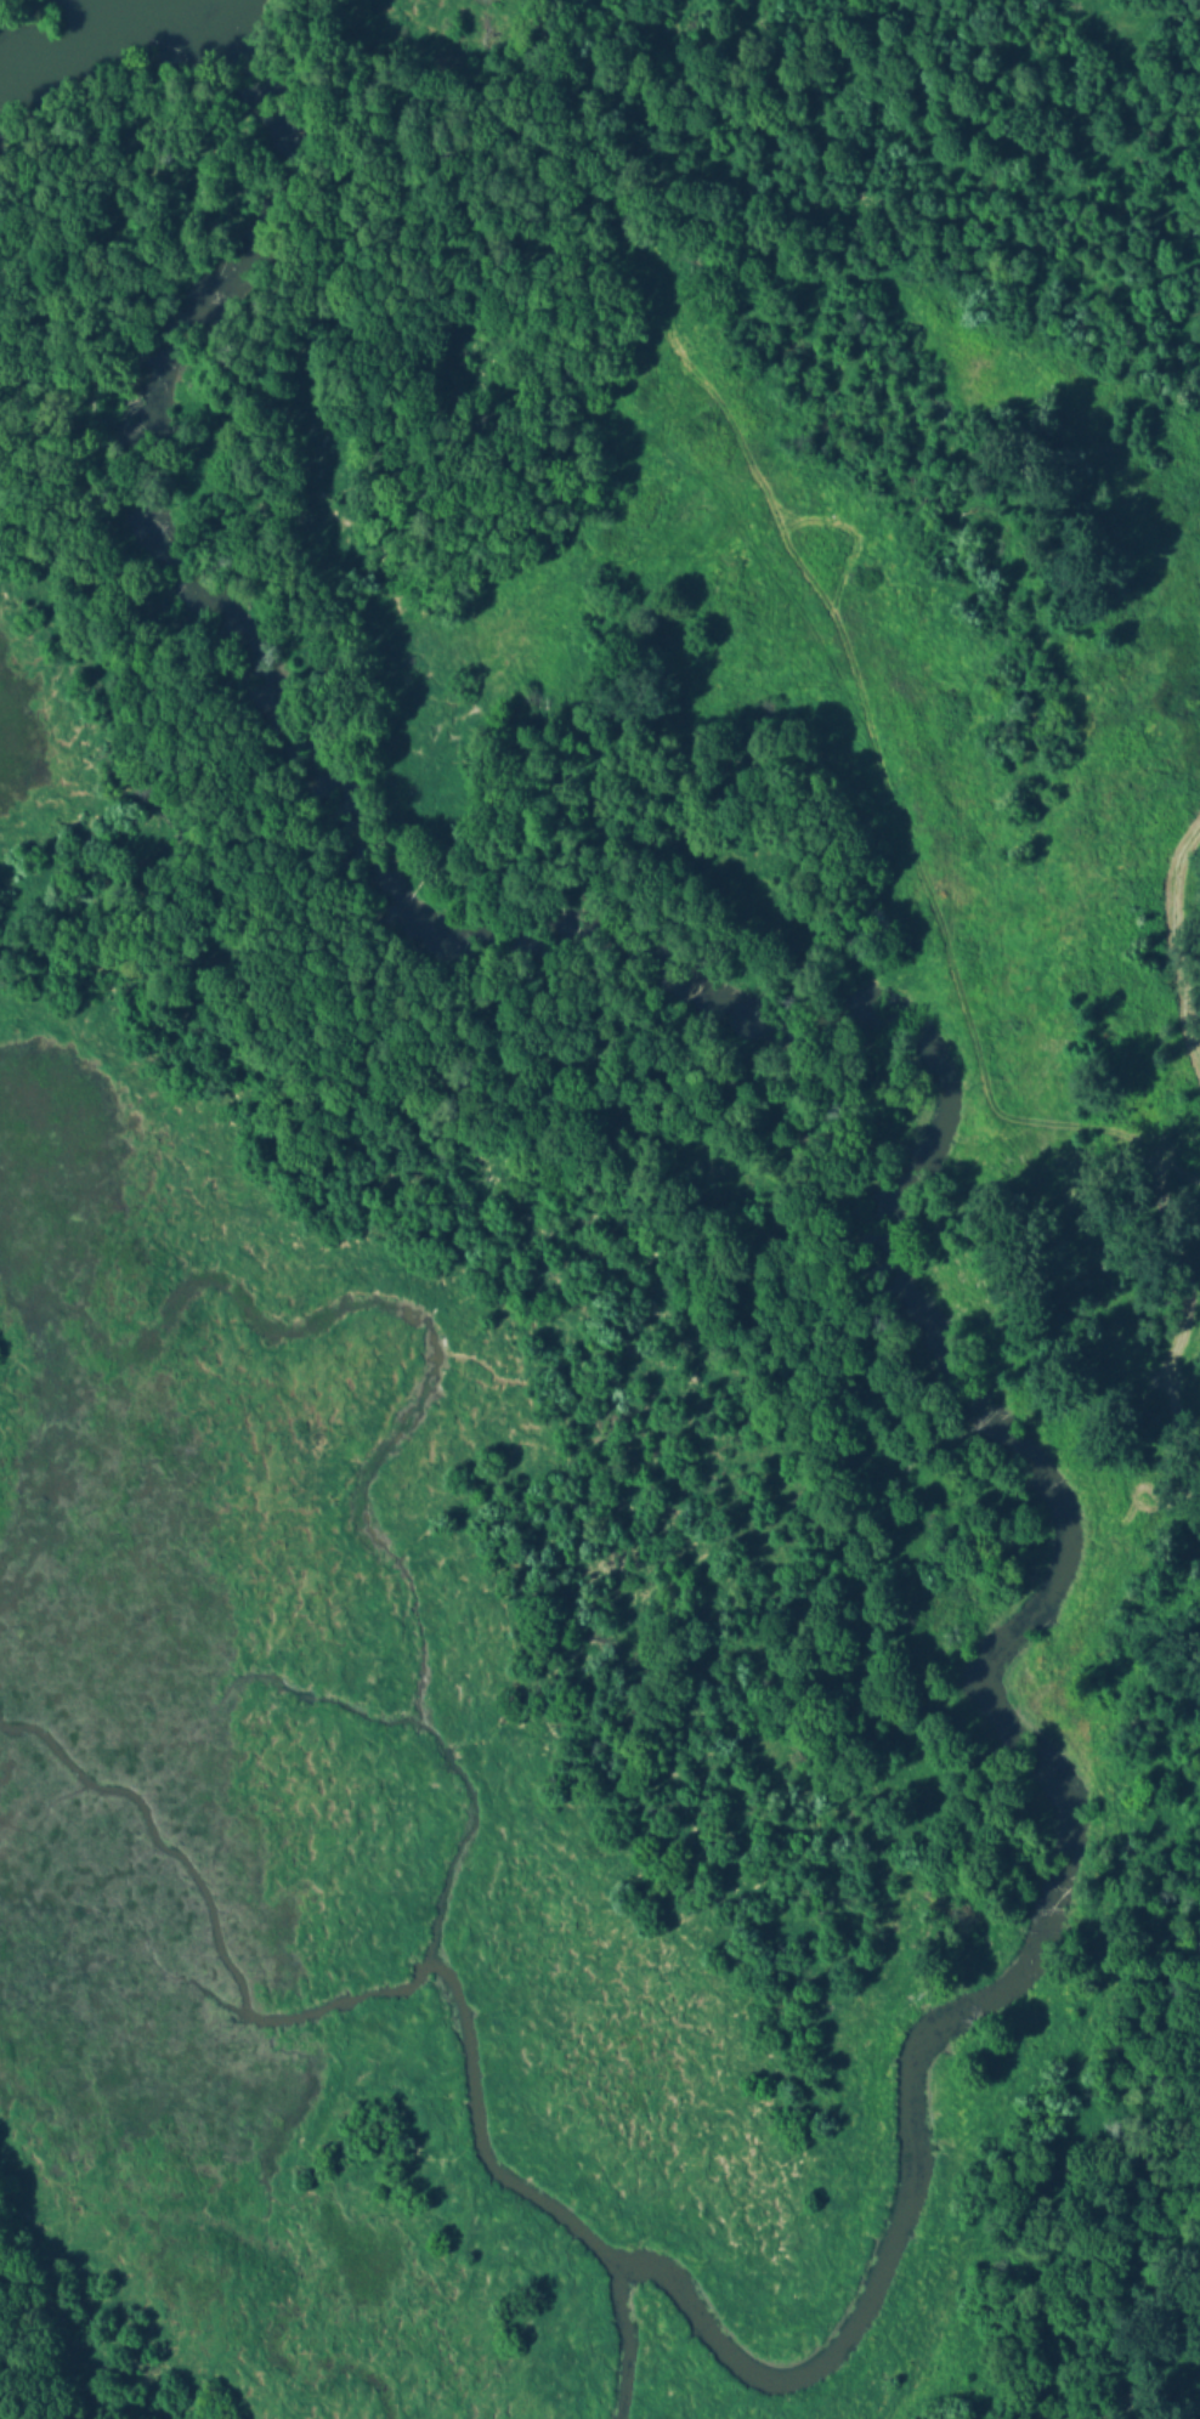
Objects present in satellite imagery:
road: (1148, 2293)

